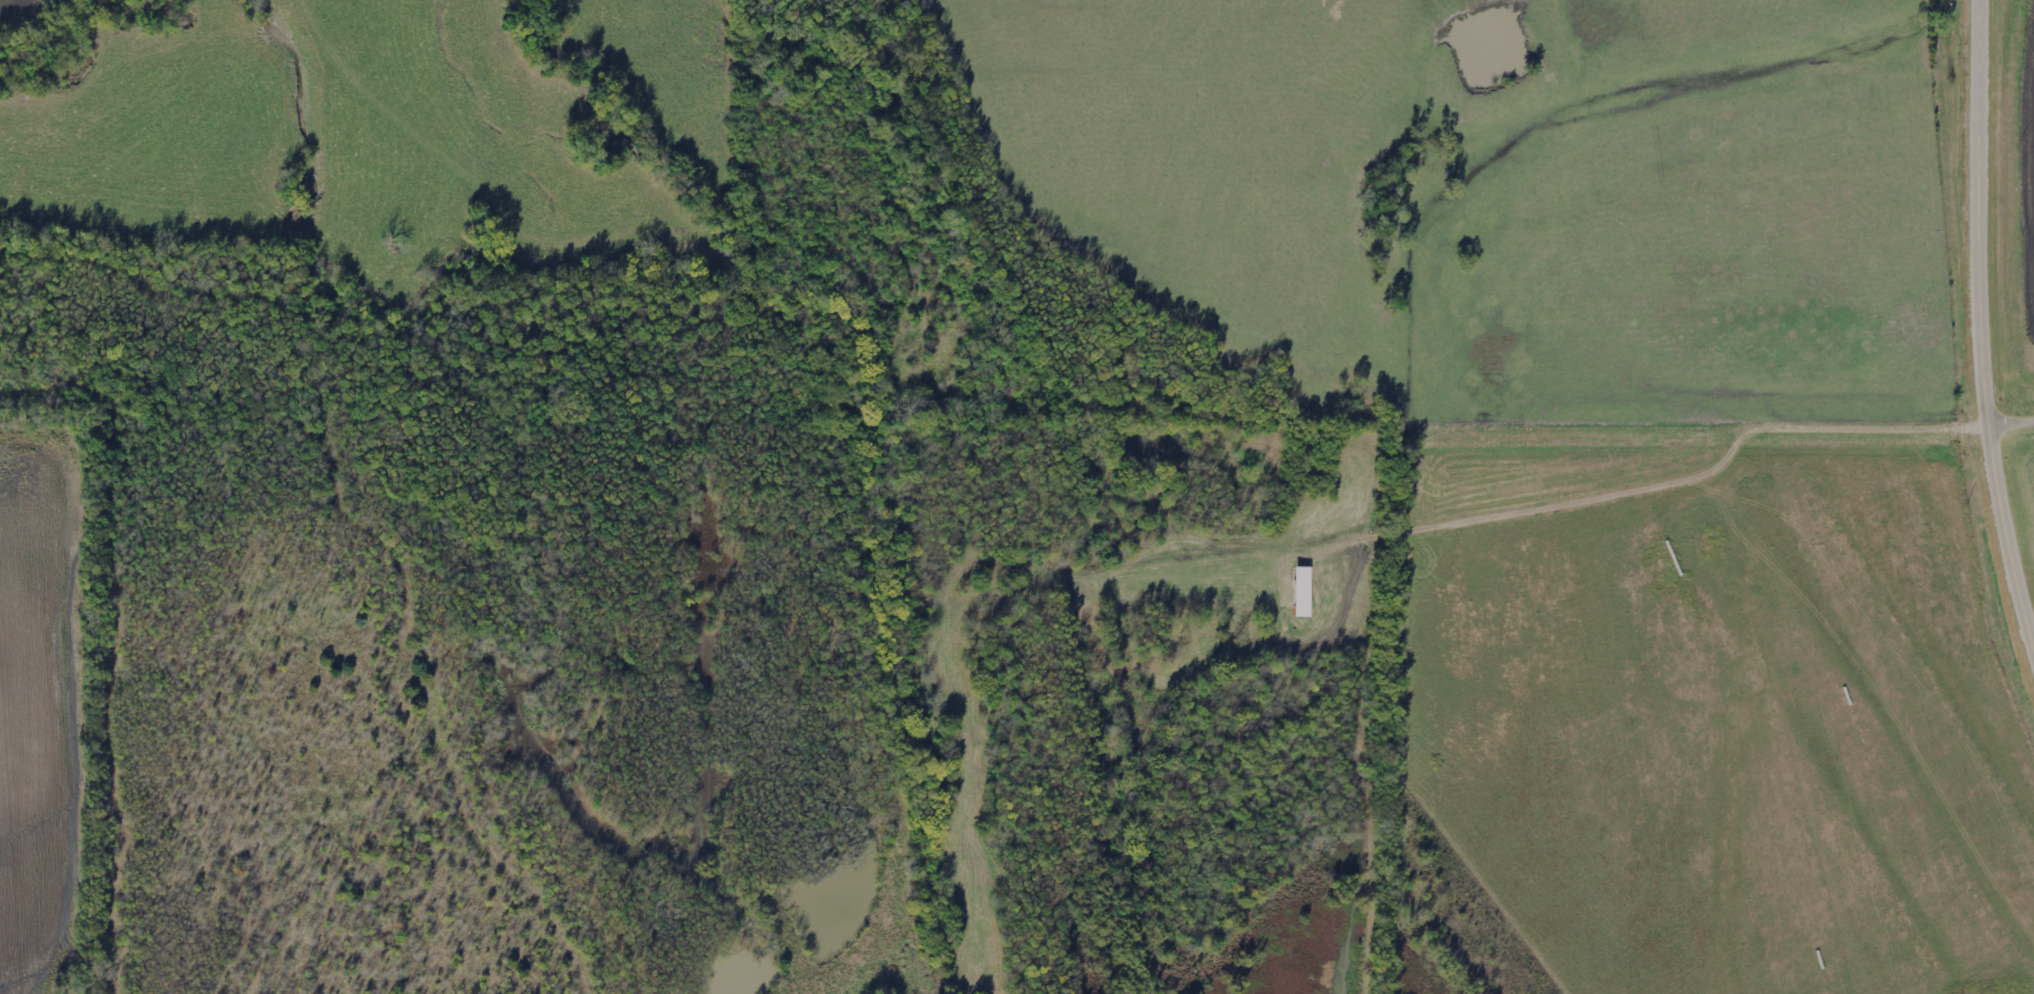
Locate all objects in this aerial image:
road: (1979, 336)
road: (2010, 427)

